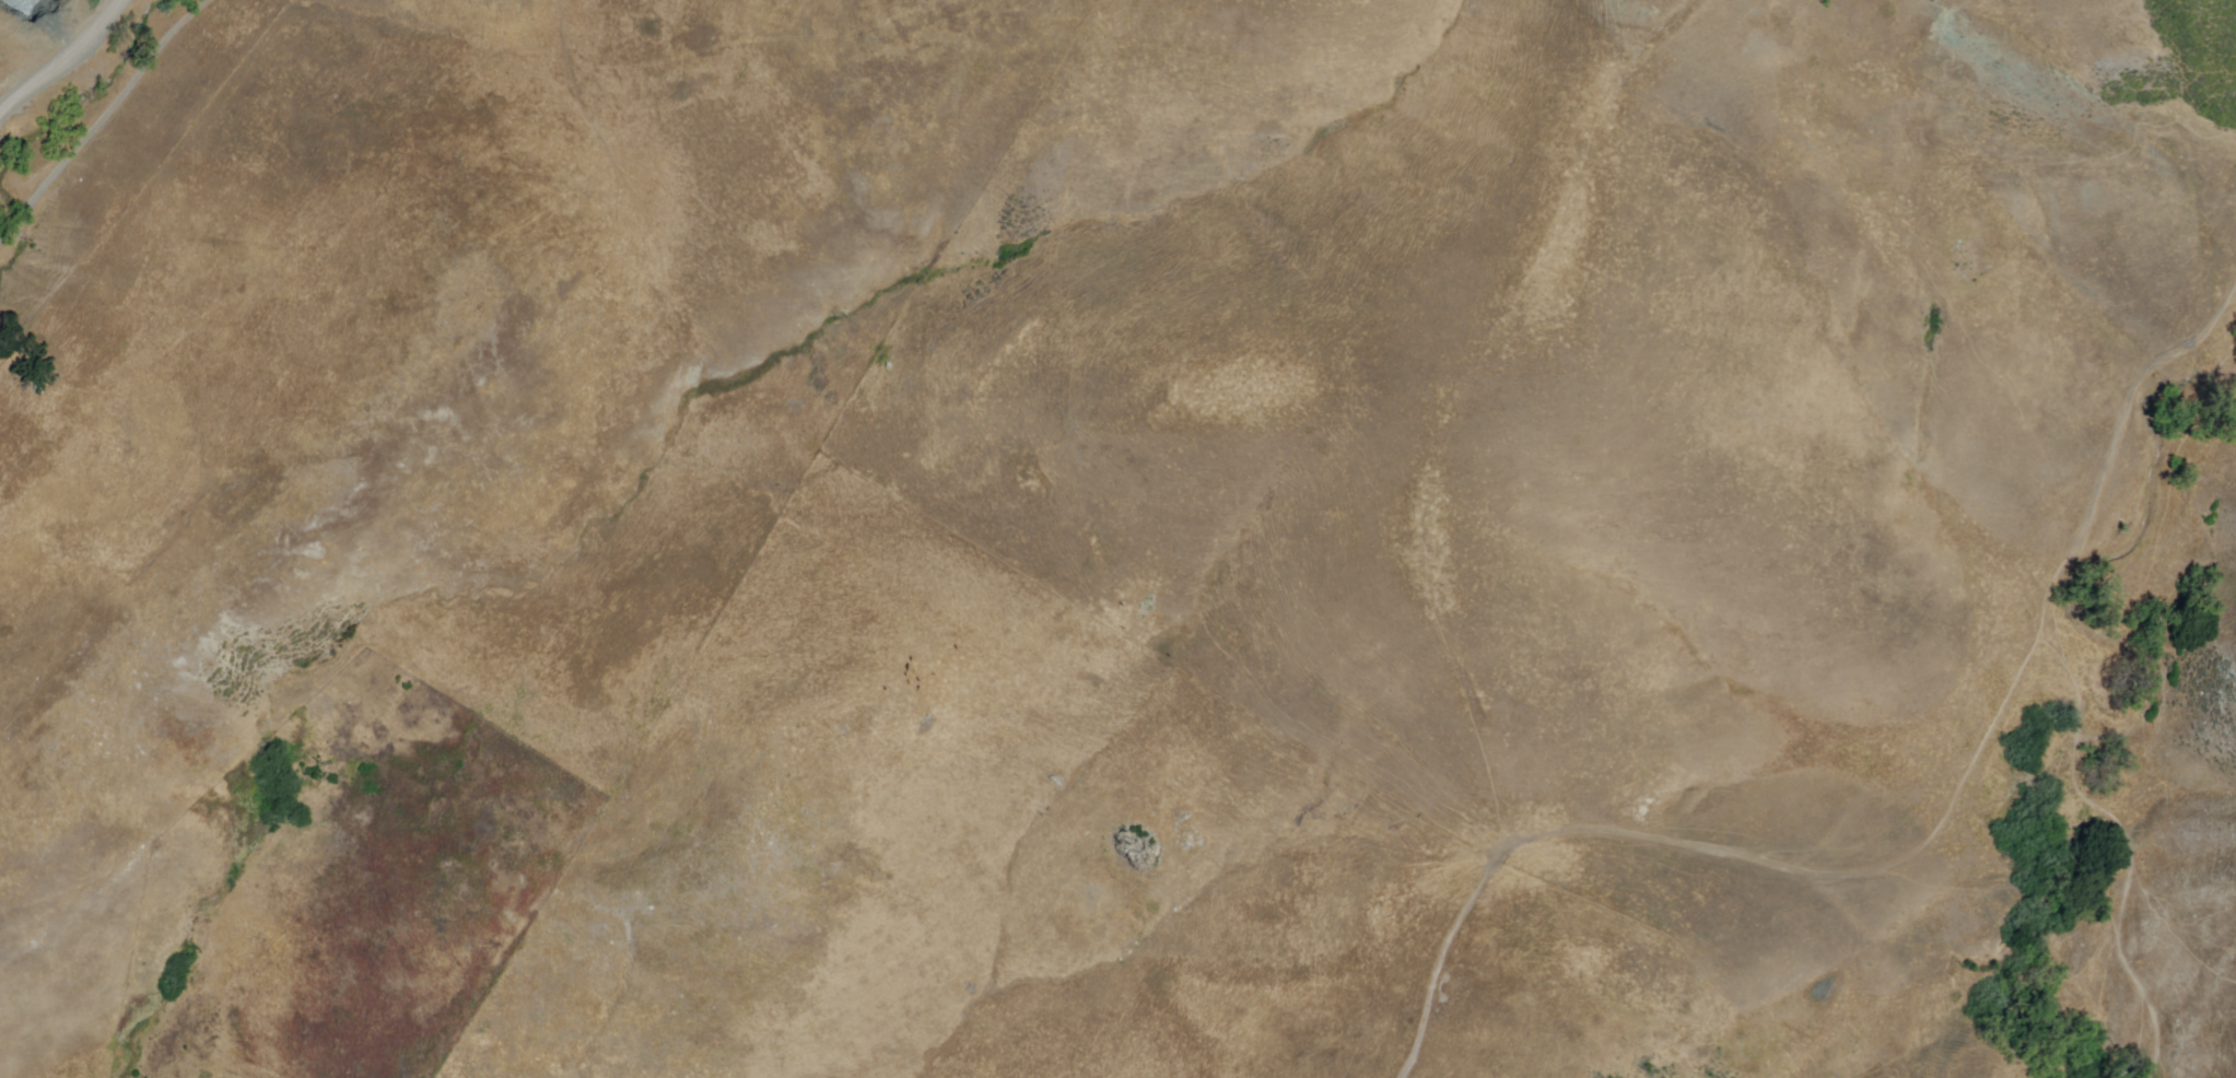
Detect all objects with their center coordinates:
quarry: (44, 12)
road: (63, 61)
road: (102, 120)
road: (2130, 847)
road: (1908, 856)

